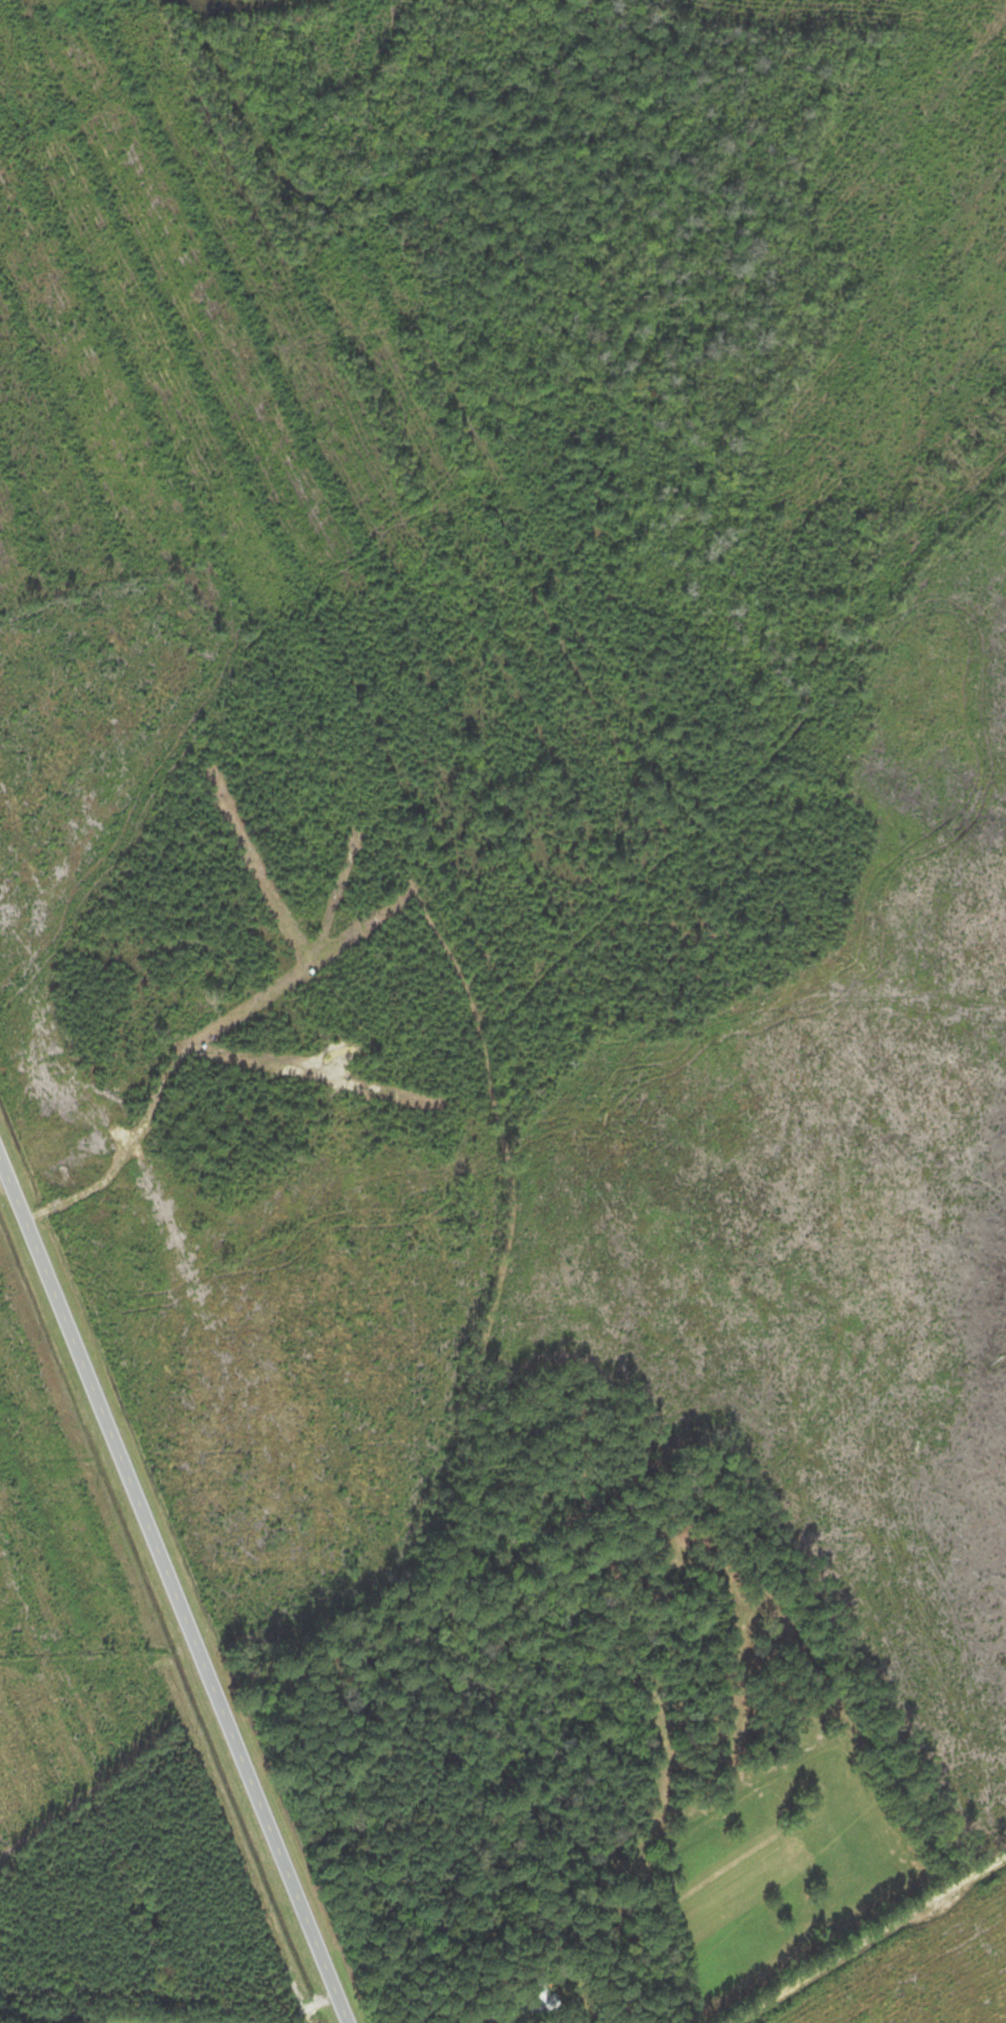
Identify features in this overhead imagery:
road: (181, 1572)
road: (867, 1937)
building: (536, 2002)

